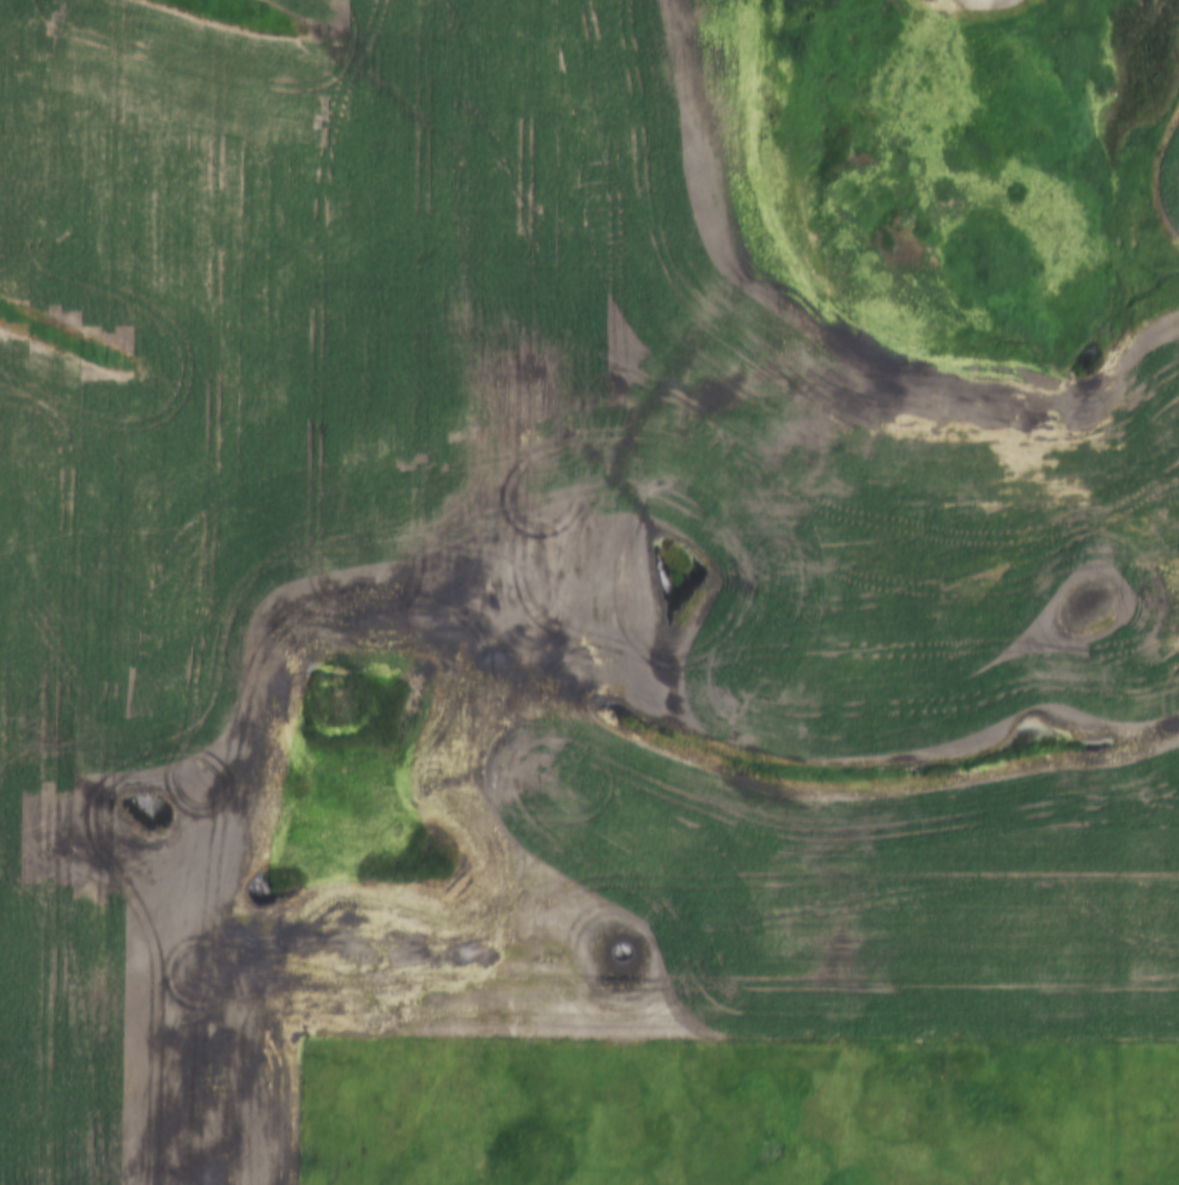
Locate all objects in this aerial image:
crop: (573, 536)

